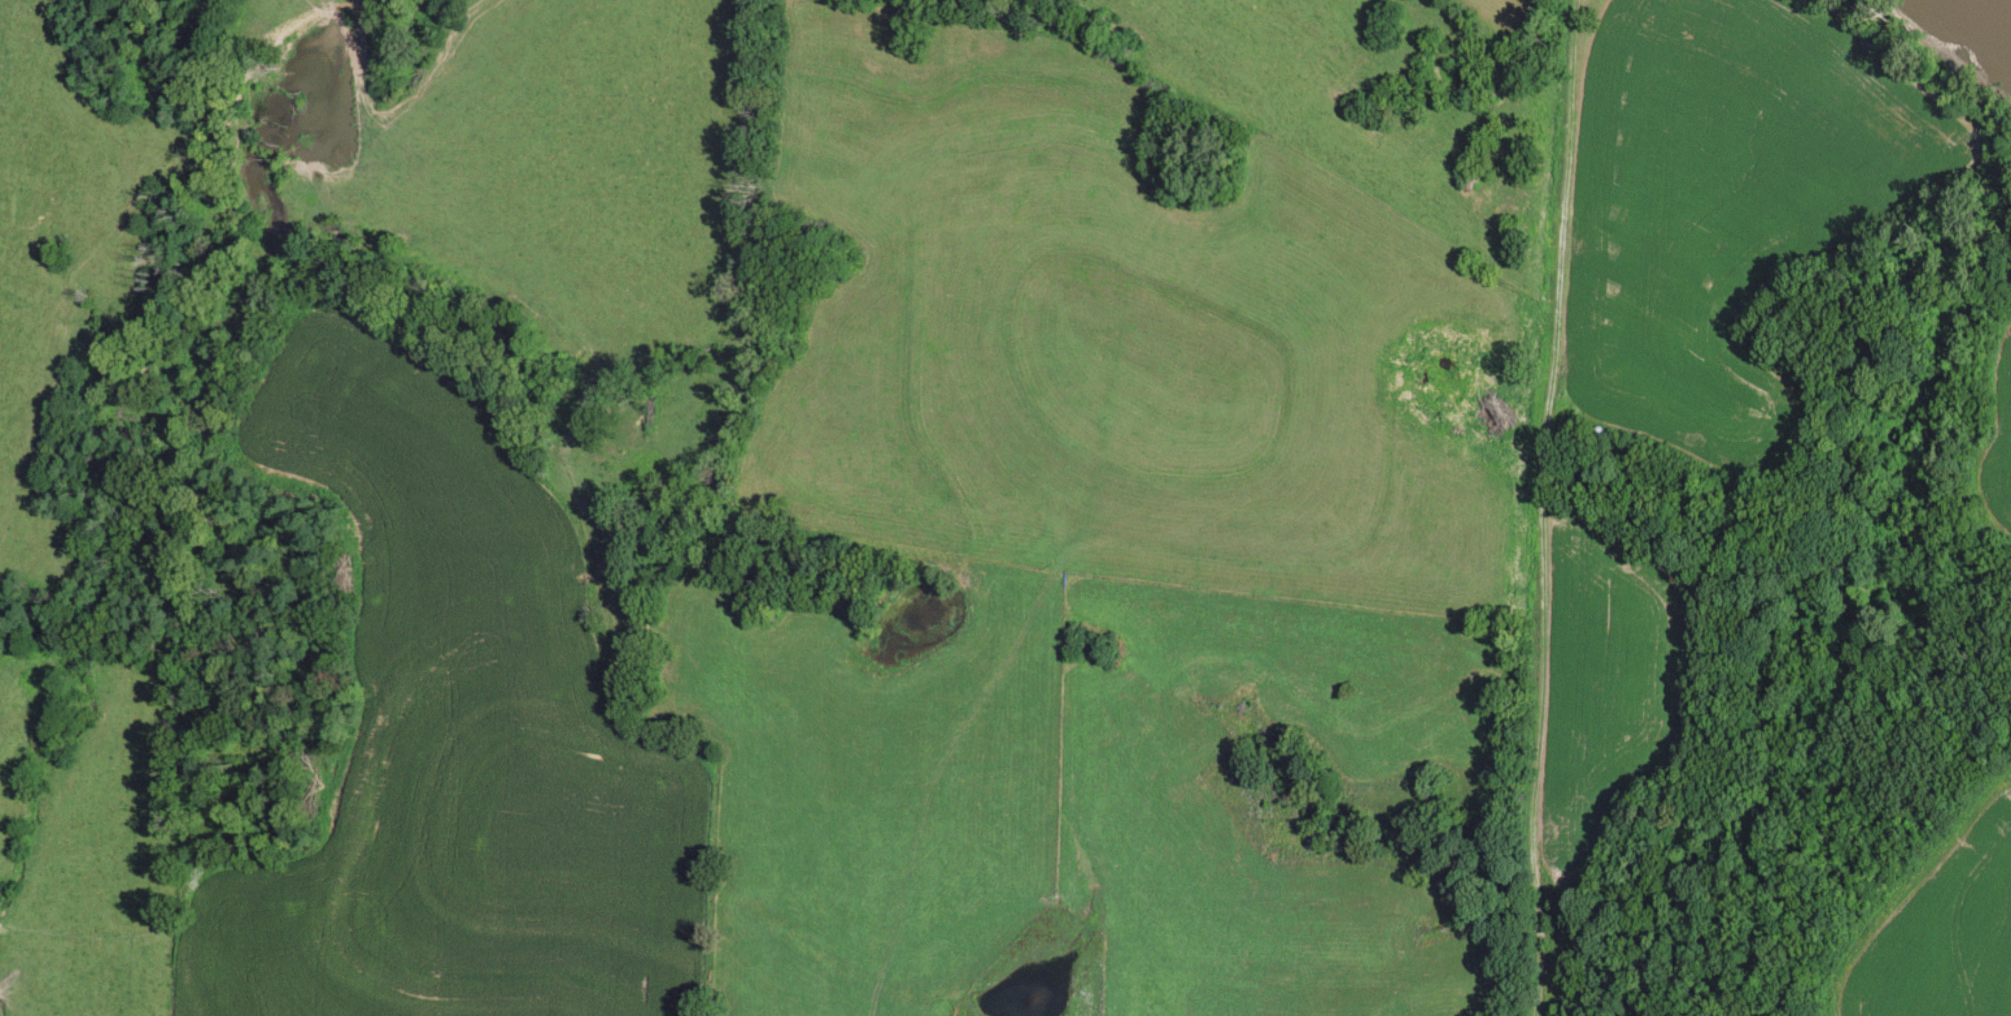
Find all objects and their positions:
road: (1554, 508)
road: (1060, 807)
road: (716, 833)

